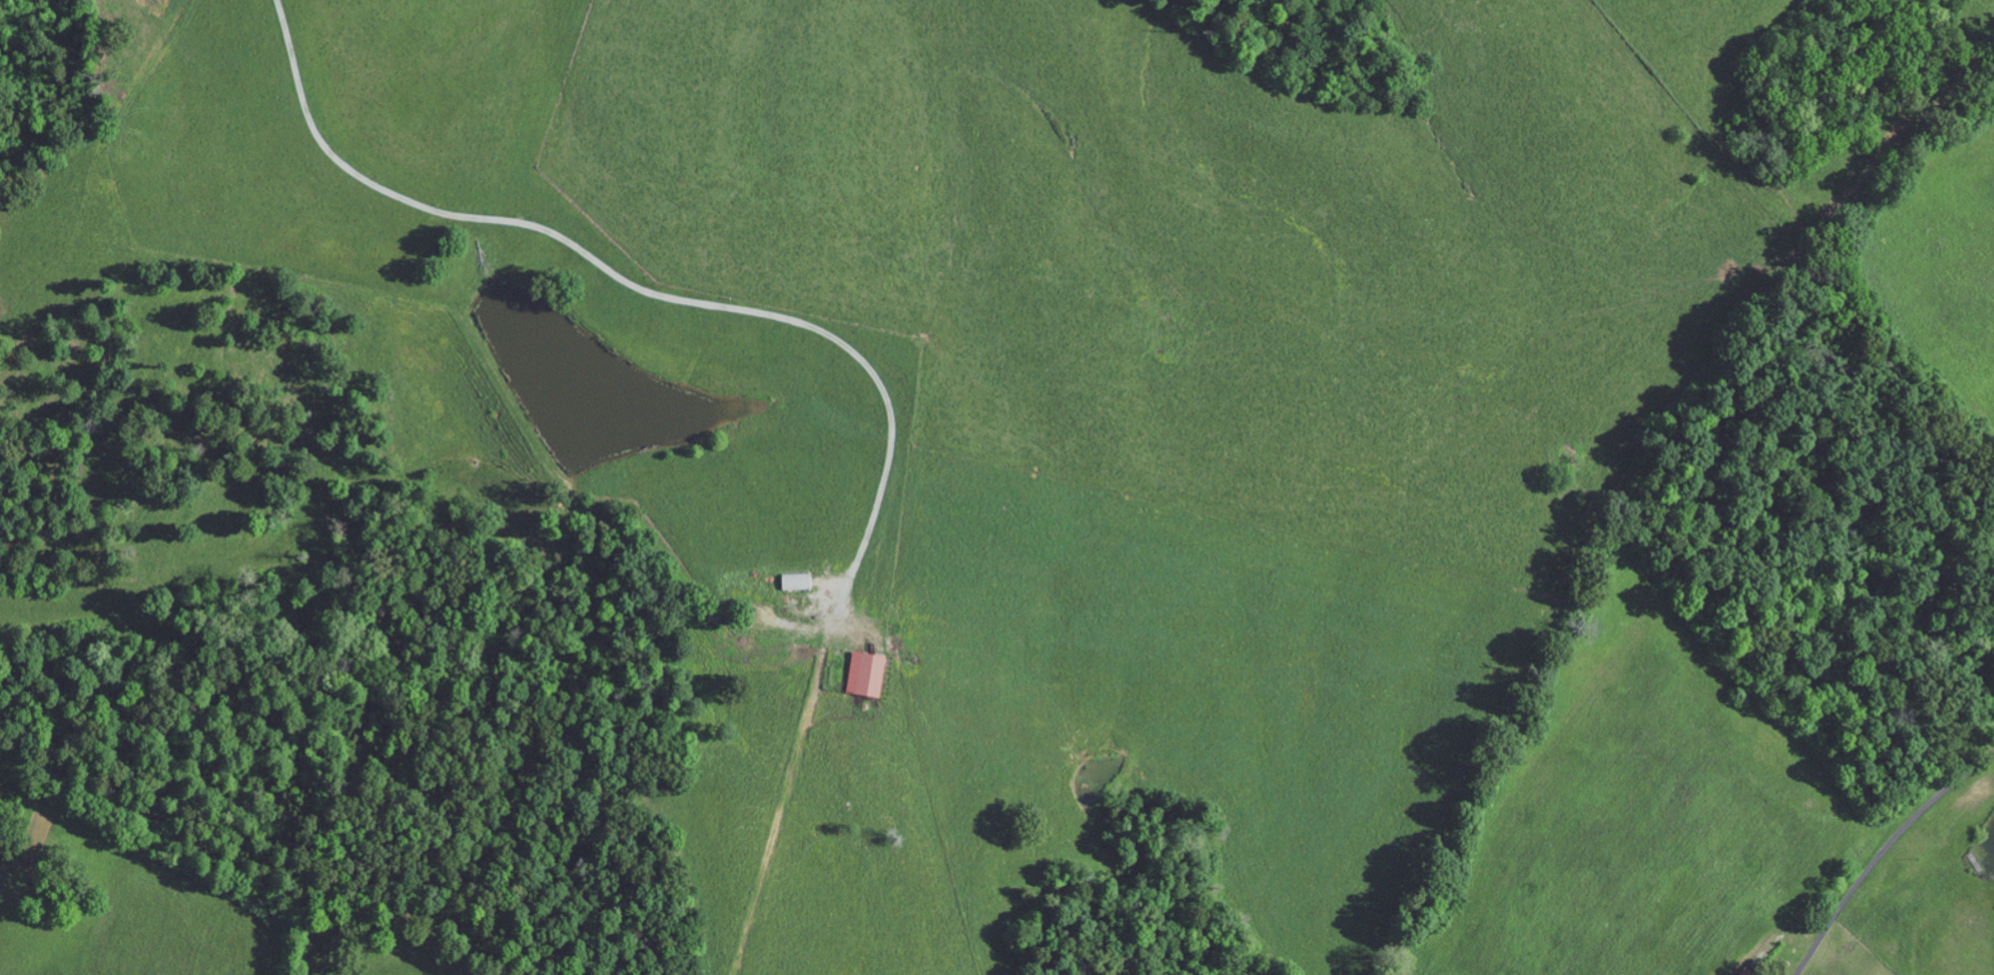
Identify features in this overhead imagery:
building: (797, 582)
building: (867, 674)
road: (1888, 857)

